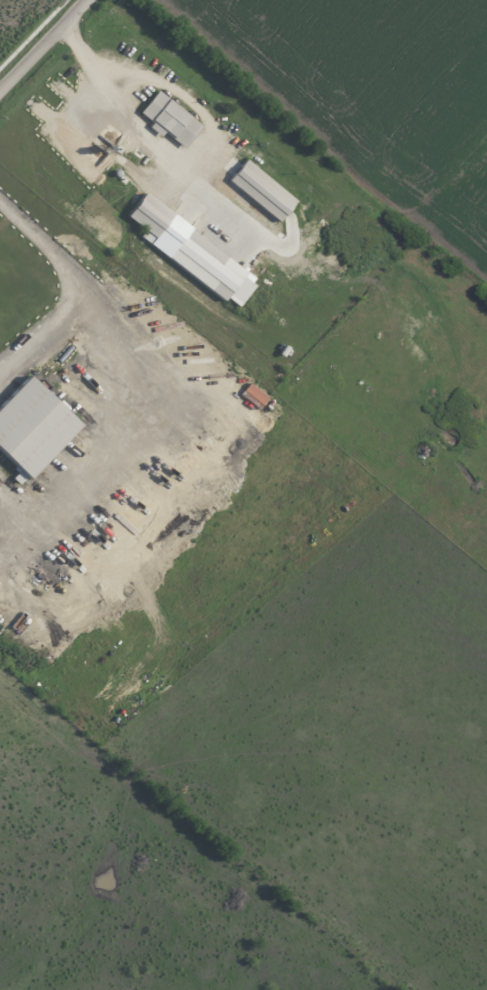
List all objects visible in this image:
road: (47, 48)
road: (122, 114)
building: (170, 119)
building: (262, 190)
road: (44, 250)
building: (191, 251)
road: (40, 335)
building: (254, 394)
building: (32, 426)
road: (127, 439)

